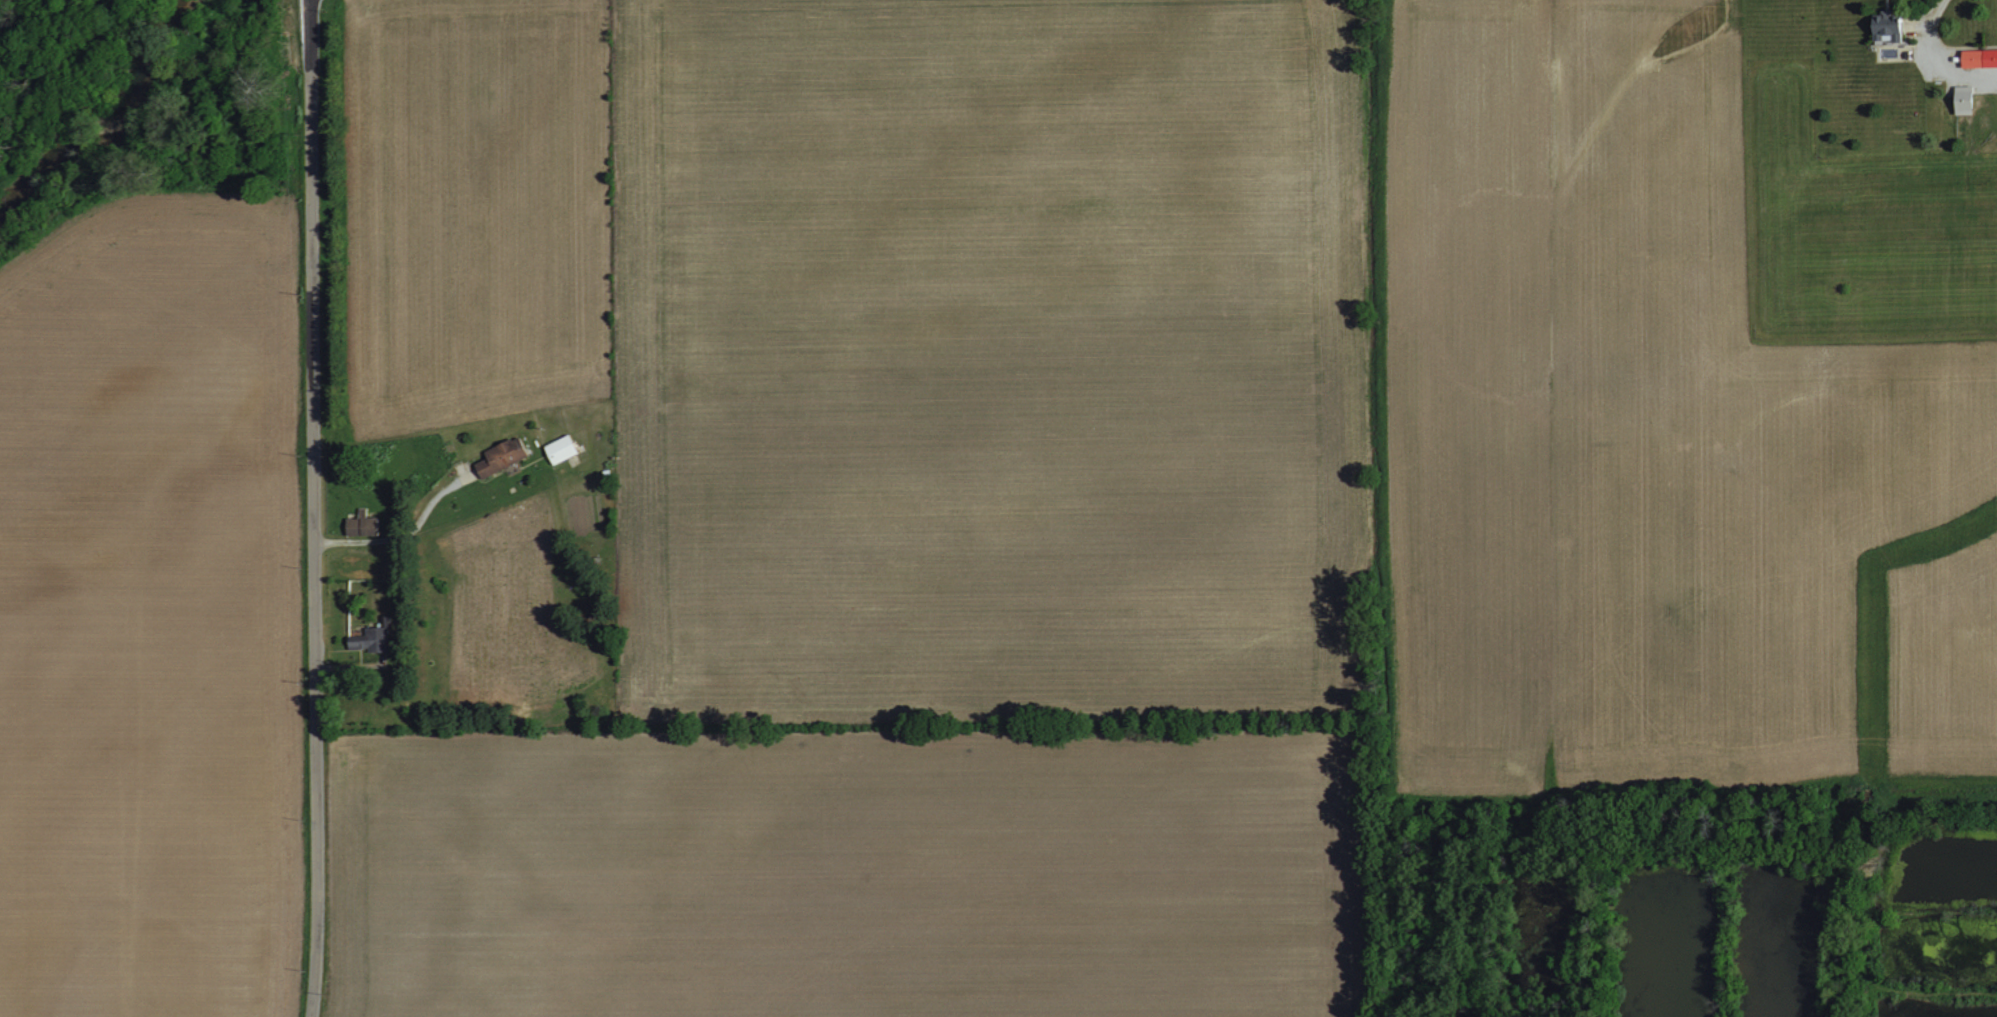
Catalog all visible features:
building: (1887, 32)
building: (1979, 57)
road: (1929, 63)
building: (1984, 80)
building: (1963, 99)
building: (560, 449)
building: (501, 456)
road: (312, 508)
building: (360, 526)
road: (405, 532)
building: (370, 640)

